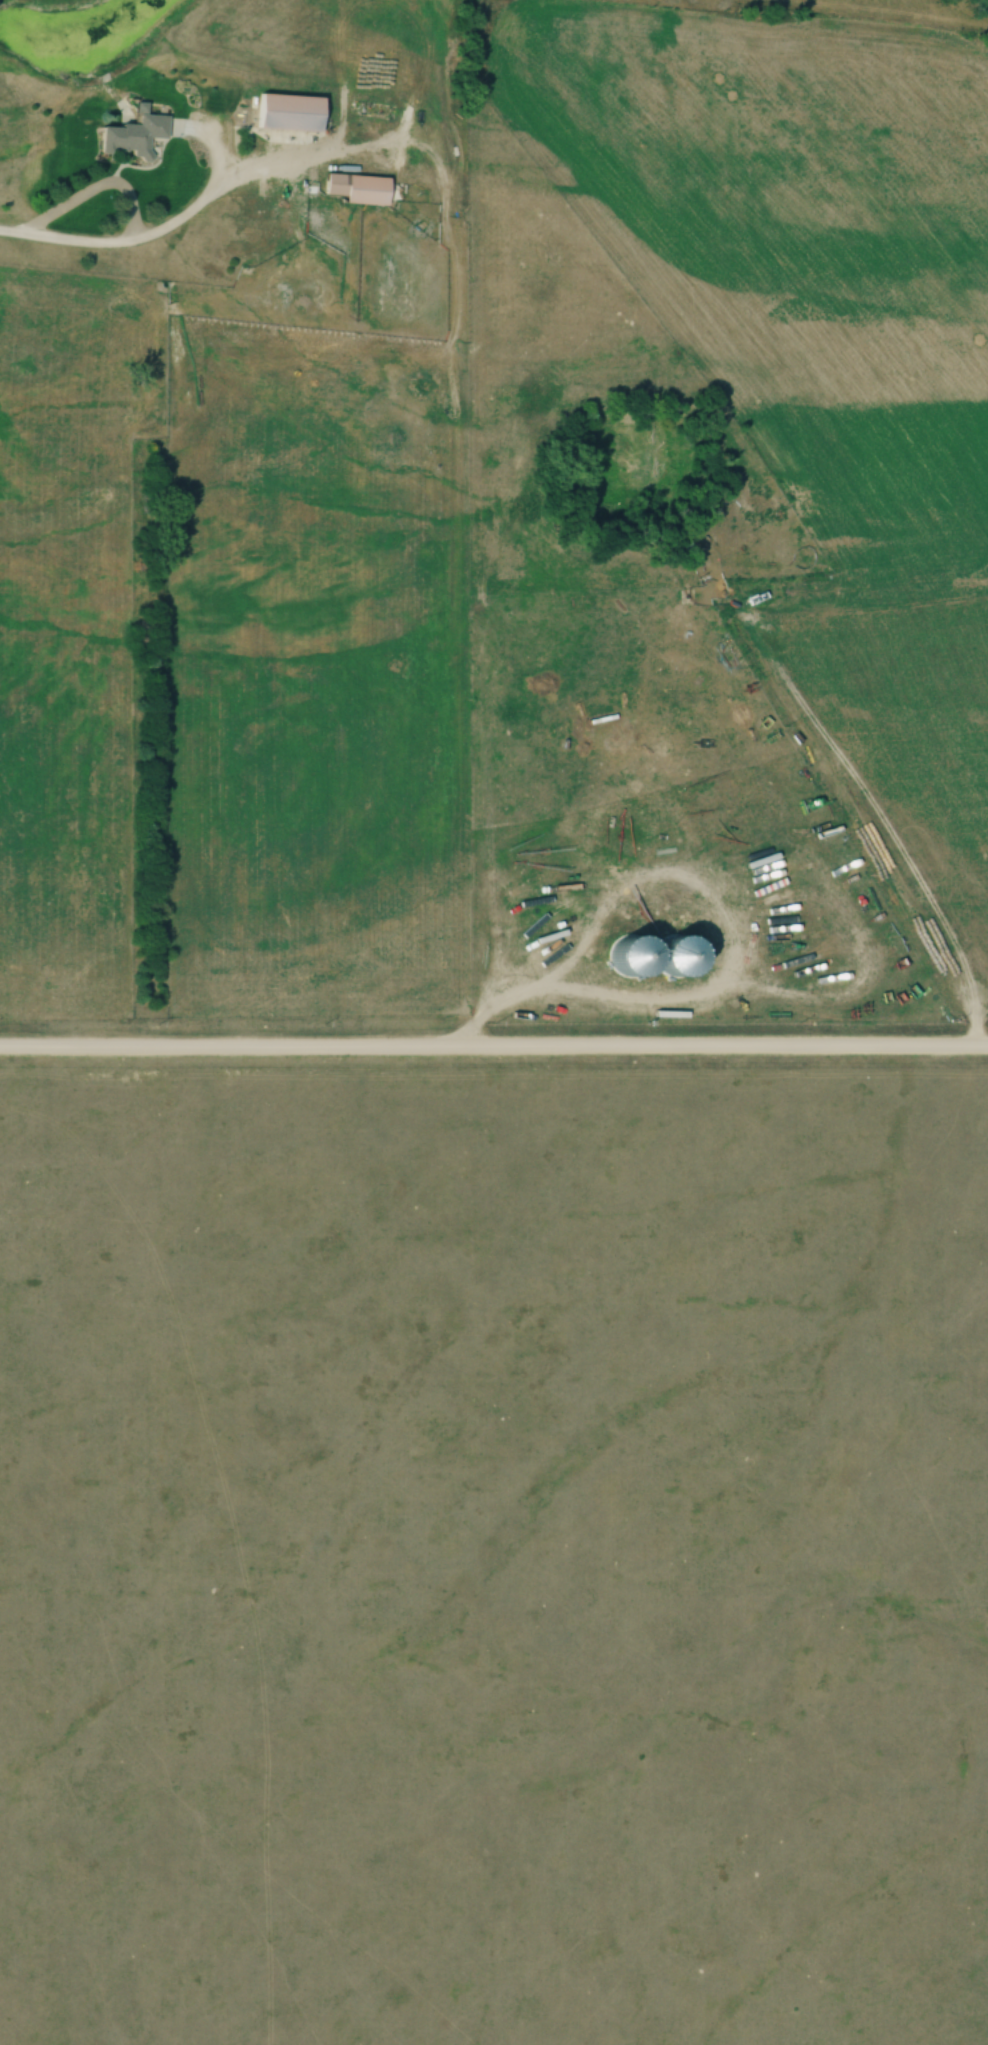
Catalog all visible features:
building: (288, 113)
building: (133, 137)
building: (357, 189)
road: (150, 236)
road: (493, 1051)

